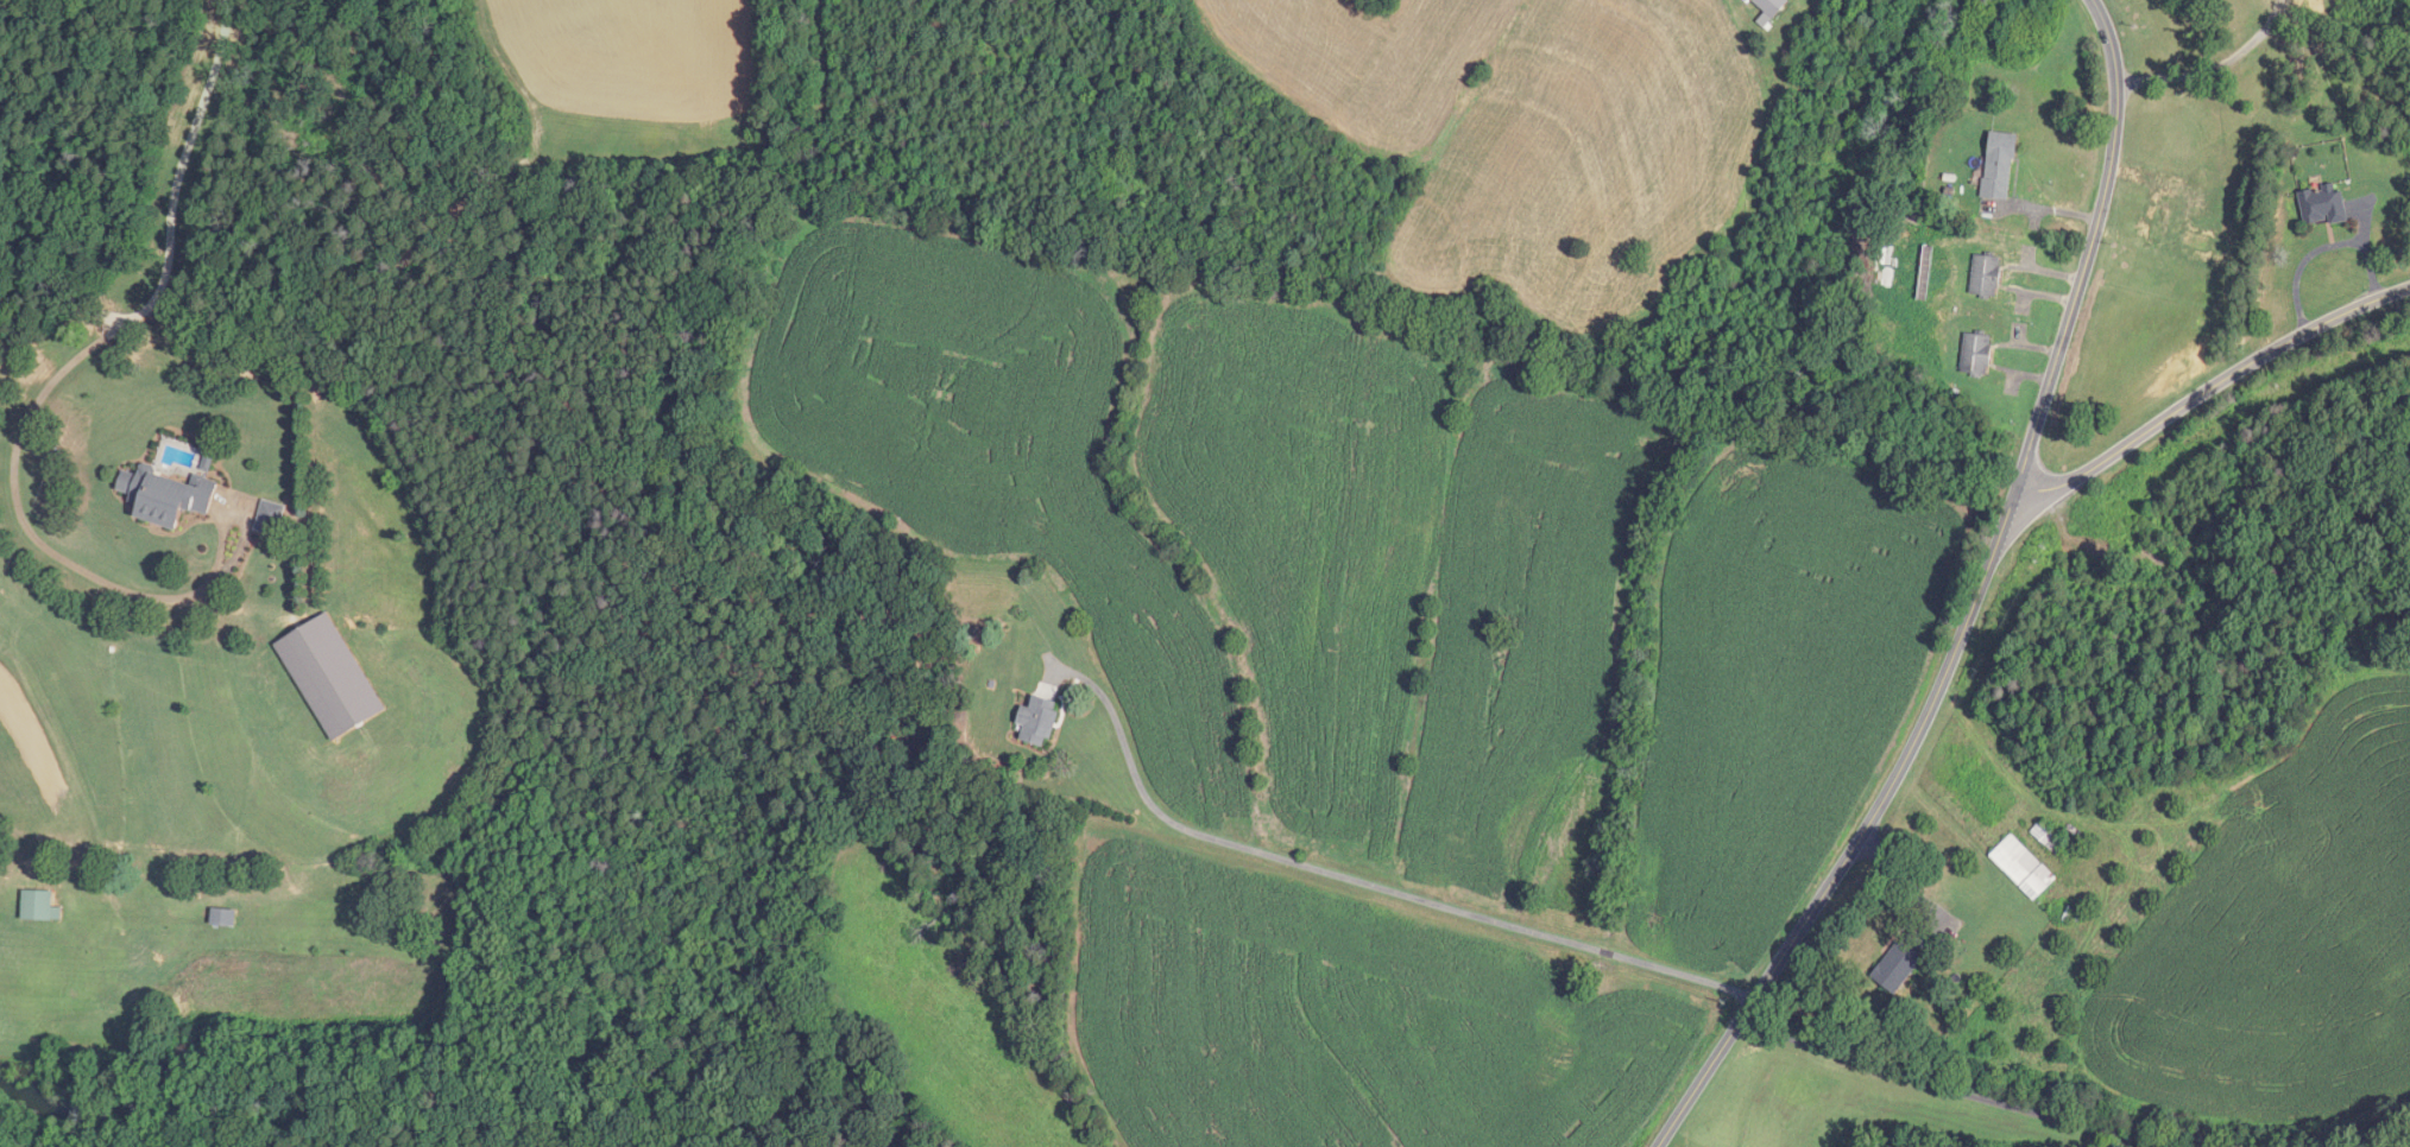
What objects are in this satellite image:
building: (1773, 6)
road: (2214, 66)
building: (2000, 165)
building: (2324, 205)
building: (2164, 221)
road: (2320, 248)
building: (1986, 277)
building: (1976, 355)
road: (75, 359)
road: (2209, 388)
building: (166, 495)
road: (240, 512)
building: (271, 518)
road: (1973, 603)
building: (1039, 721)
building: (2044, 834)
building: (2024, 867)
road: (1359, 883)
building: (40, 906)
building: (223, 918)
building: (1901, 962)
road: (1918, 1094)

